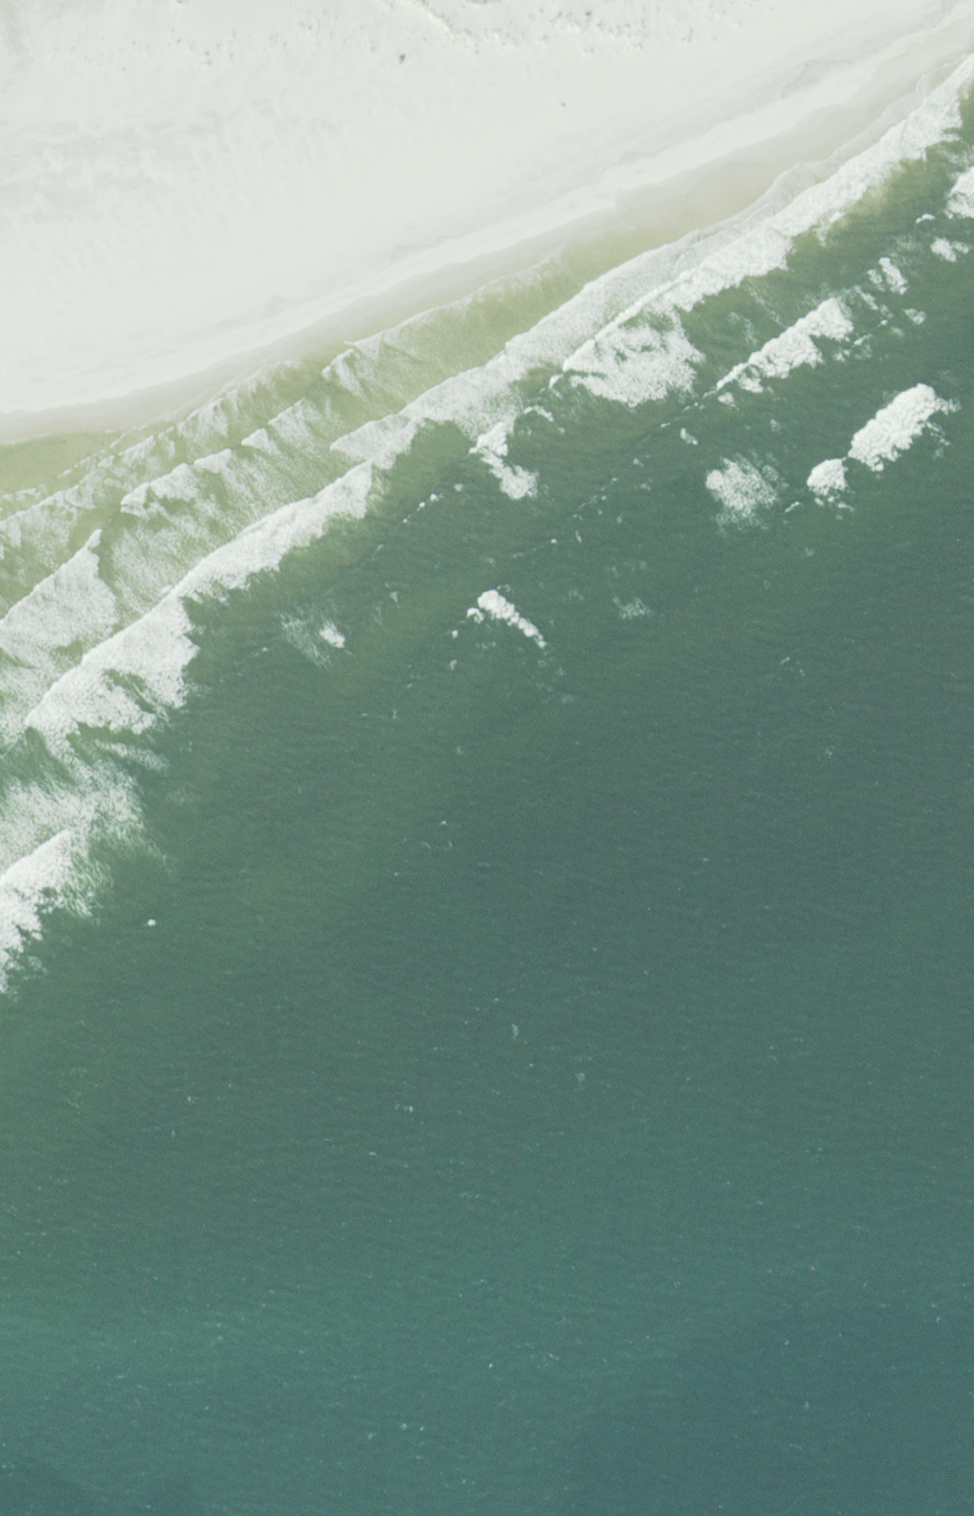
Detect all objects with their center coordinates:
park: (801, 49)

